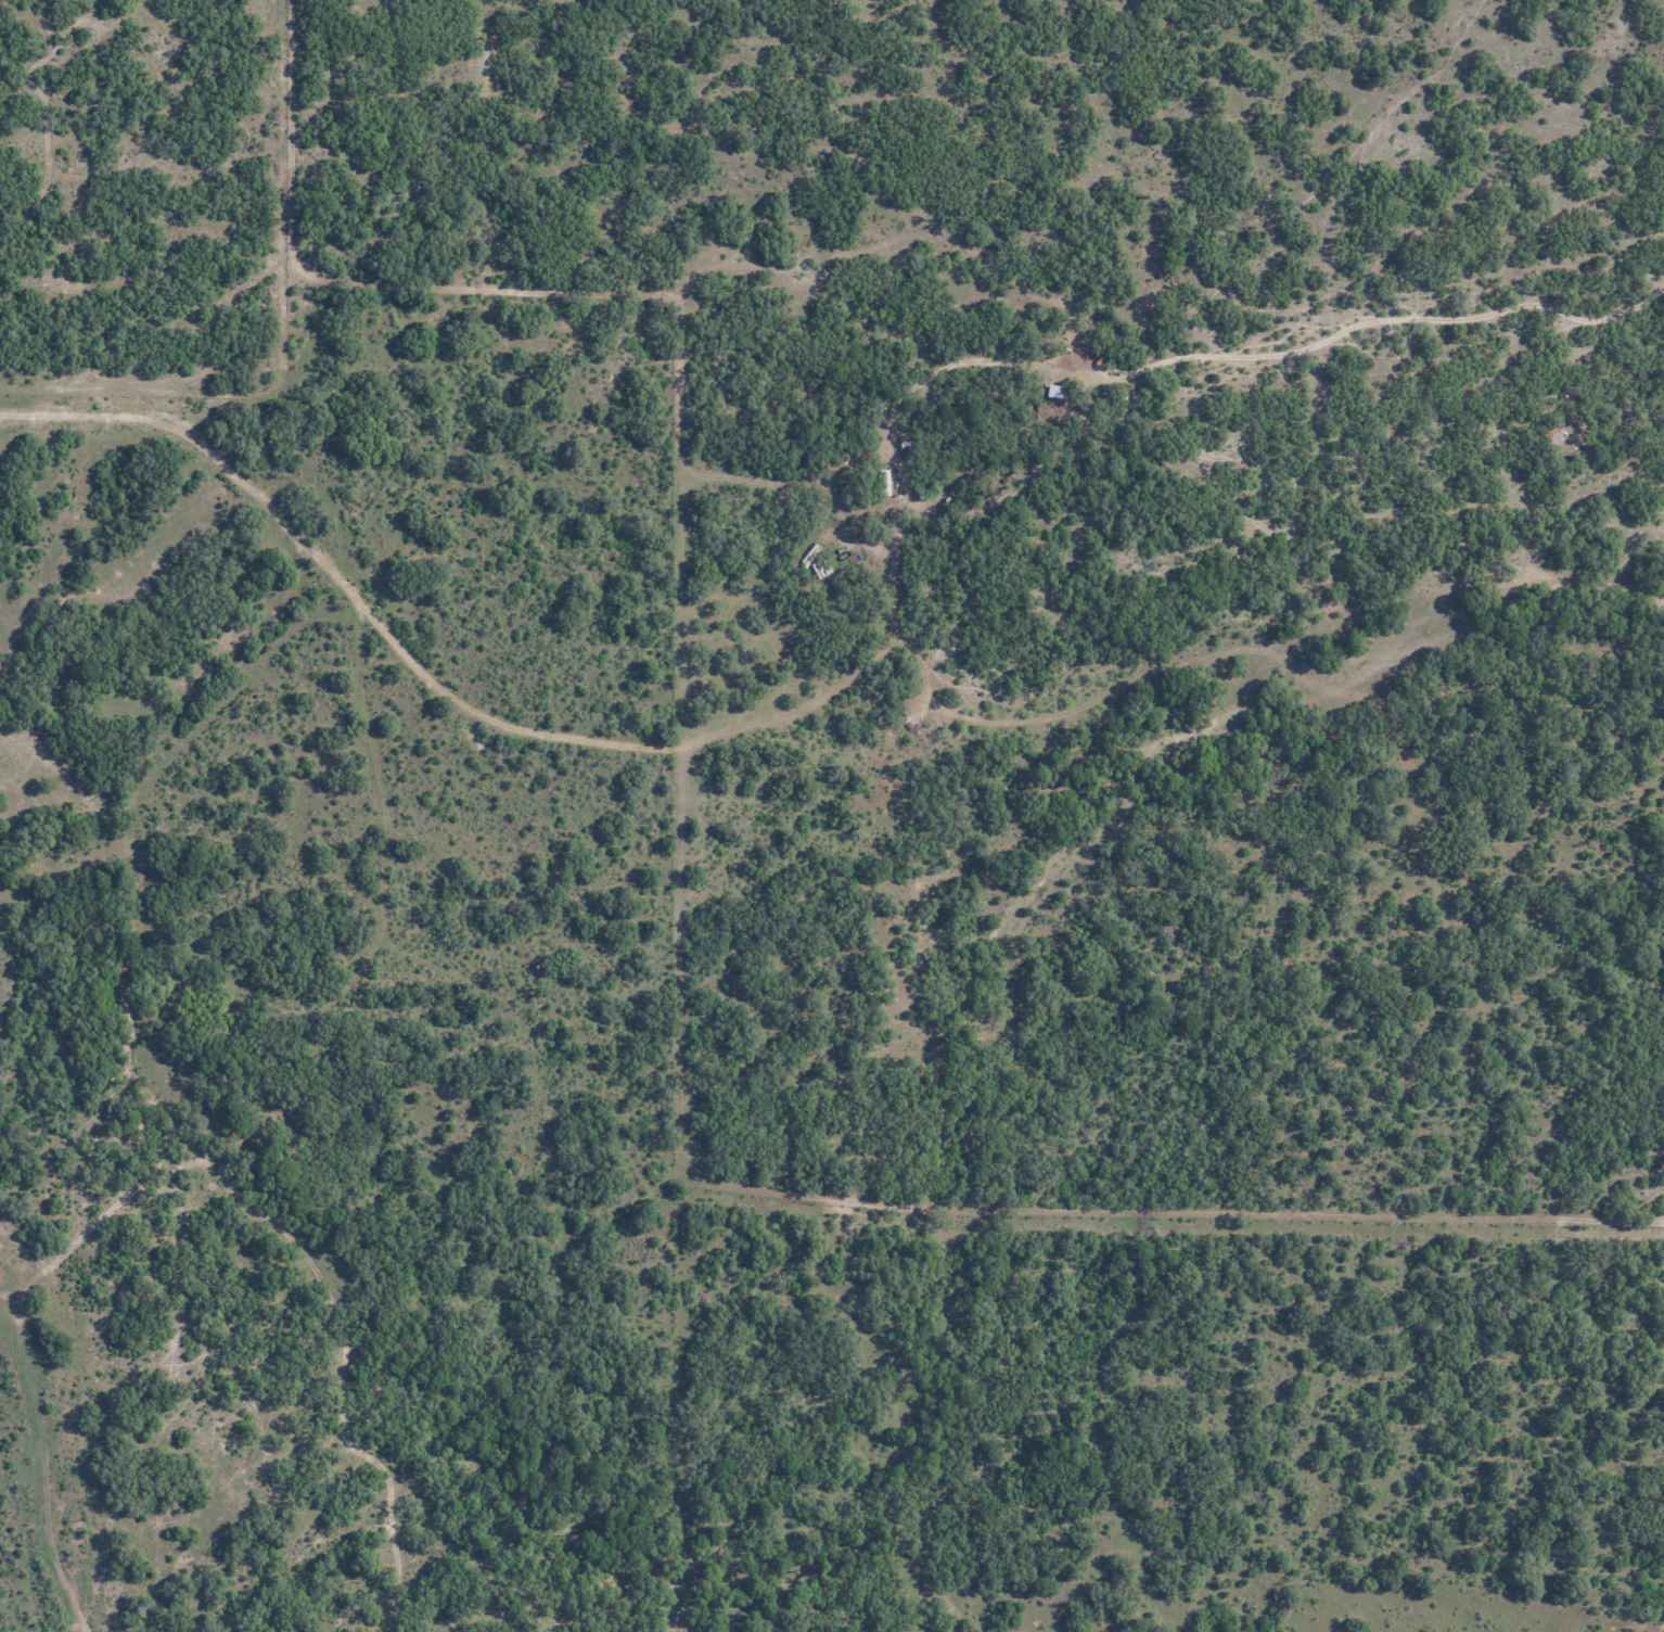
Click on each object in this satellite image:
road: (745, 305)
building: (1055, 390)
building: (1554, 435)

